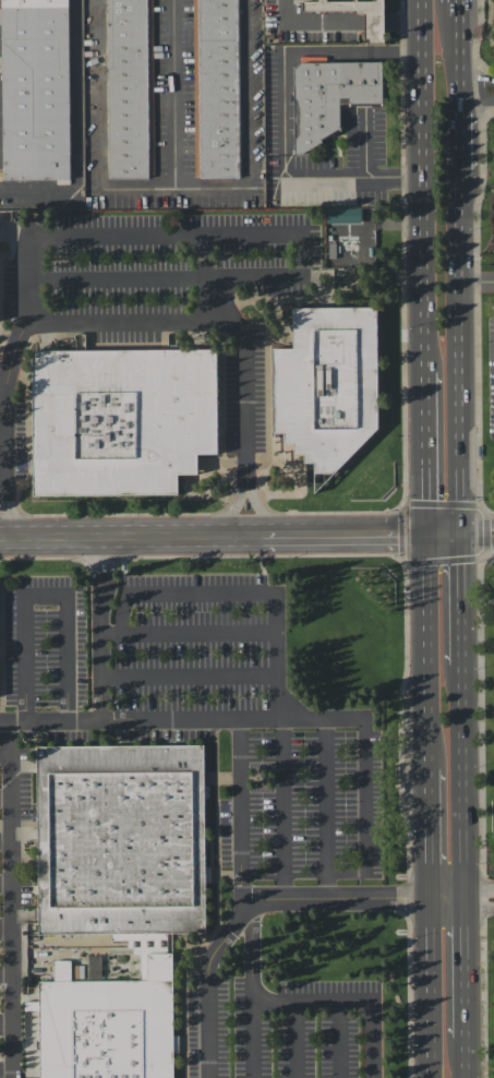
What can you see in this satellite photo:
road: (313, 21)
road: (374, 21)
road: (405, 21)
building: (373, 26)
road: (459, 49)
road: (401, 50)
road: (285, 57)
road: (477, 80)
building: (129, 88)
building: (215, 88)
building: (34, 89)
road: (478, 97)
building: (338, 100)
road: (246, 129)
road: (74, 132)
road: (461, 134)
road: (342, 181)
road: (426, 185)
road: (138, 189)
building: (342, 215)
road: (115, 237)
road: (478, 284)
road: (126, 321)
road: (461, 351)
building: (336, 390)
road: (2, 393)
building: (122, 426)
road: (2, 435)
road: (429, 452)
road: (1, 479)
traffic signals: (430, 532)
road: (461, 532)
traffic signals: (462, 532)
road: (214, 535)
road: (41, 591)
road: (241, 591)
road: (463, 597)
road: (99, 627)
road: (188, 632)
road: (431, 649)
road: (188, 675)
road: (188, 719)
road: (51, 720)
road: (1, 721)
parking lot: (202, 727)
road: (1, 754)
road: (363, 772)
road: (466, 780)
road: (323, 810)
road: (239, 811)
road: (282, 811)
road: (432, 833)
building: (129, 845)
road: (5, 899)
road: (366, 900)
road: (224, 936)
road: (250, 949)
road: (468, 968)
road: (432, 989)
road: (313, 997)
building: (115, 1020)
road: (206, 1023)
road: (375, 1037)
road: (251, 1038)
road: (294, 1038)
road: (339, 1038)
road: (469, 1057)

